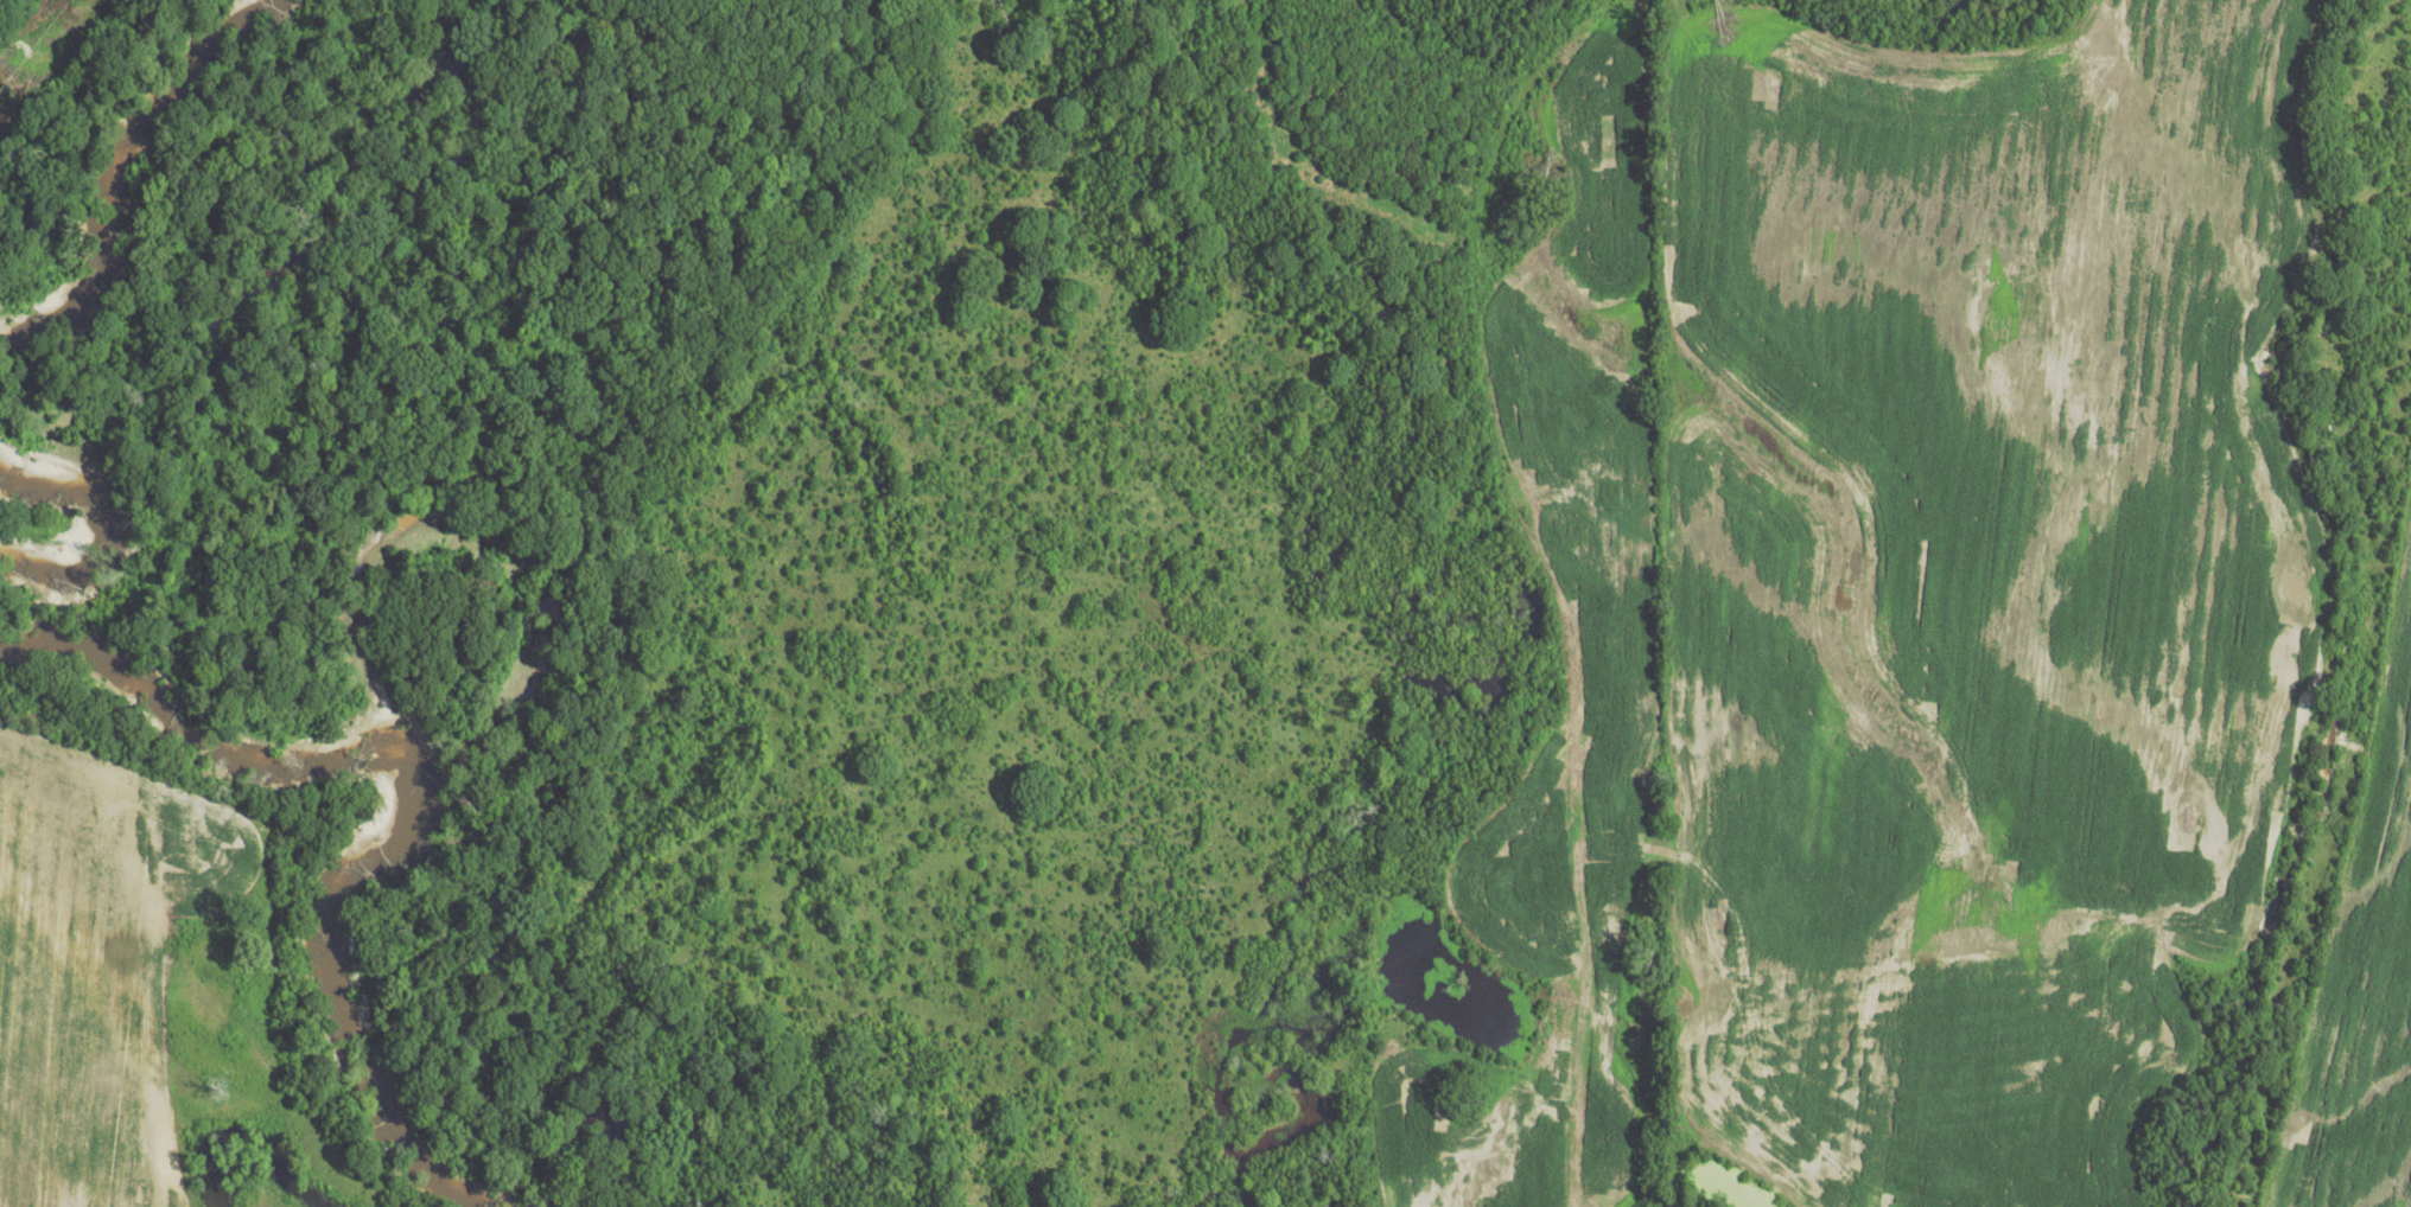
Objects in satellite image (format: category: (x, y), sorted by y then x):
river: (138, 180)
river: (95, 525)
river: (399, 800)
river: (606, 1135)

